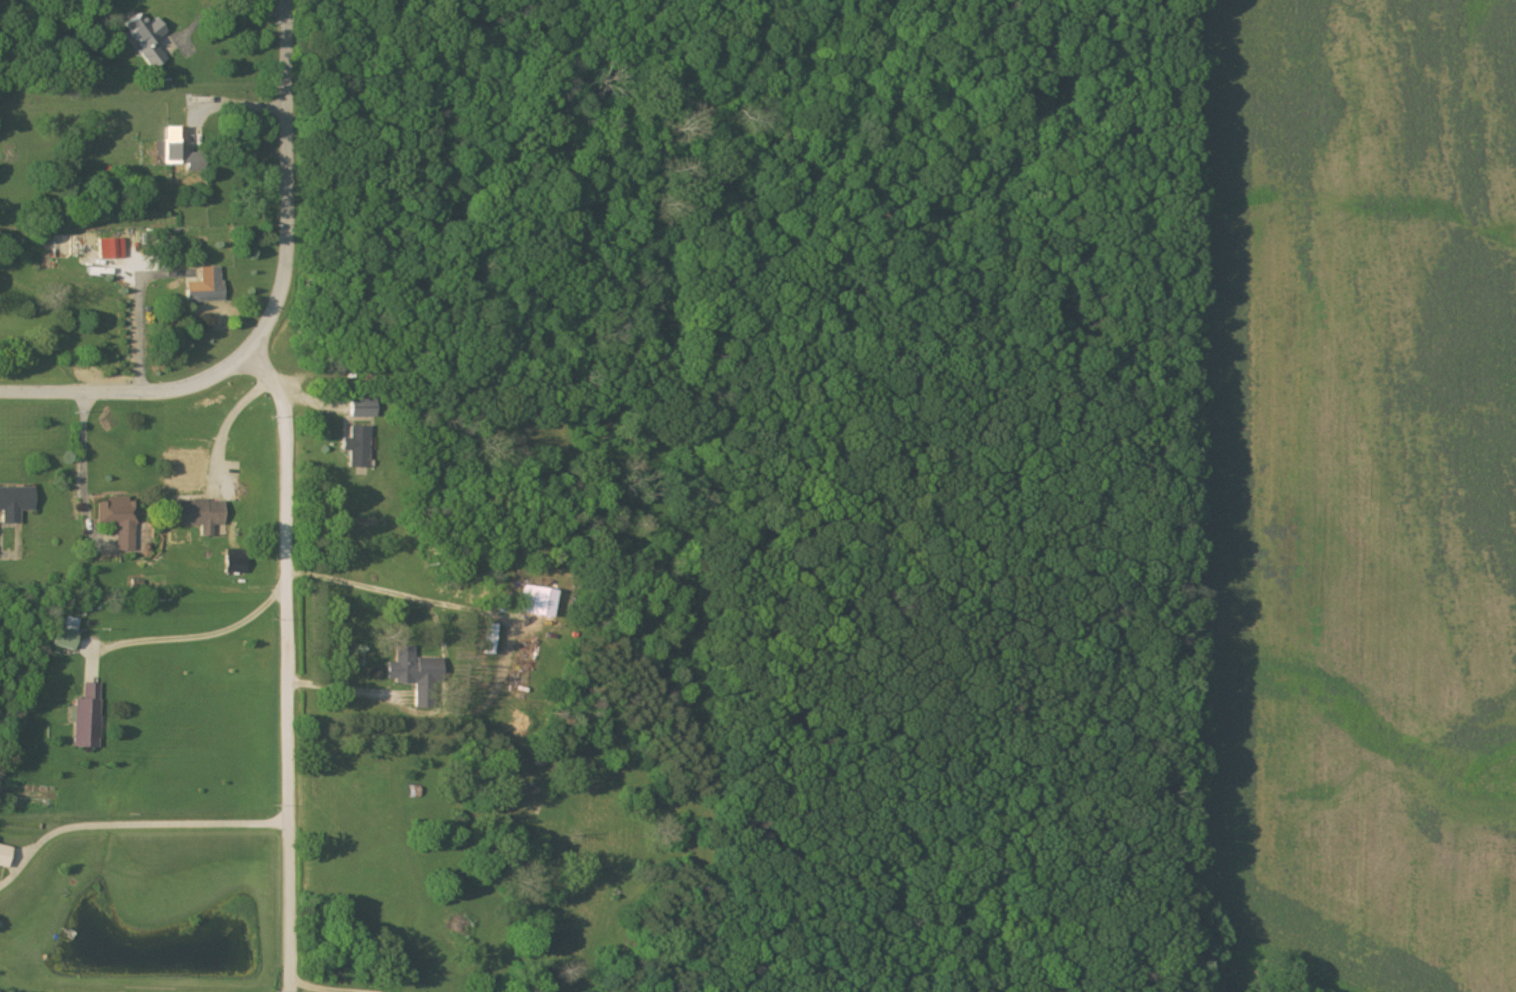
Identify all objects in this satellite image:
building: (145, 38)
building: (178, 150)
building: (110, 249)
building: (204, 287)
road: (136, 311)
road: (129, 388)
building: (365, 411)
building: (357, 447)
road: (287, 482)
building: (14, 504)
building: (199, 516)
building: (119, 521)
building: (536, 602)
building: (65, 634)
road: (192, 636)
building: (487, 640)
building: (411, 669)
building: (87, 718)
road: (133, 823)
building: (3, 857)
road: (313, 988)

